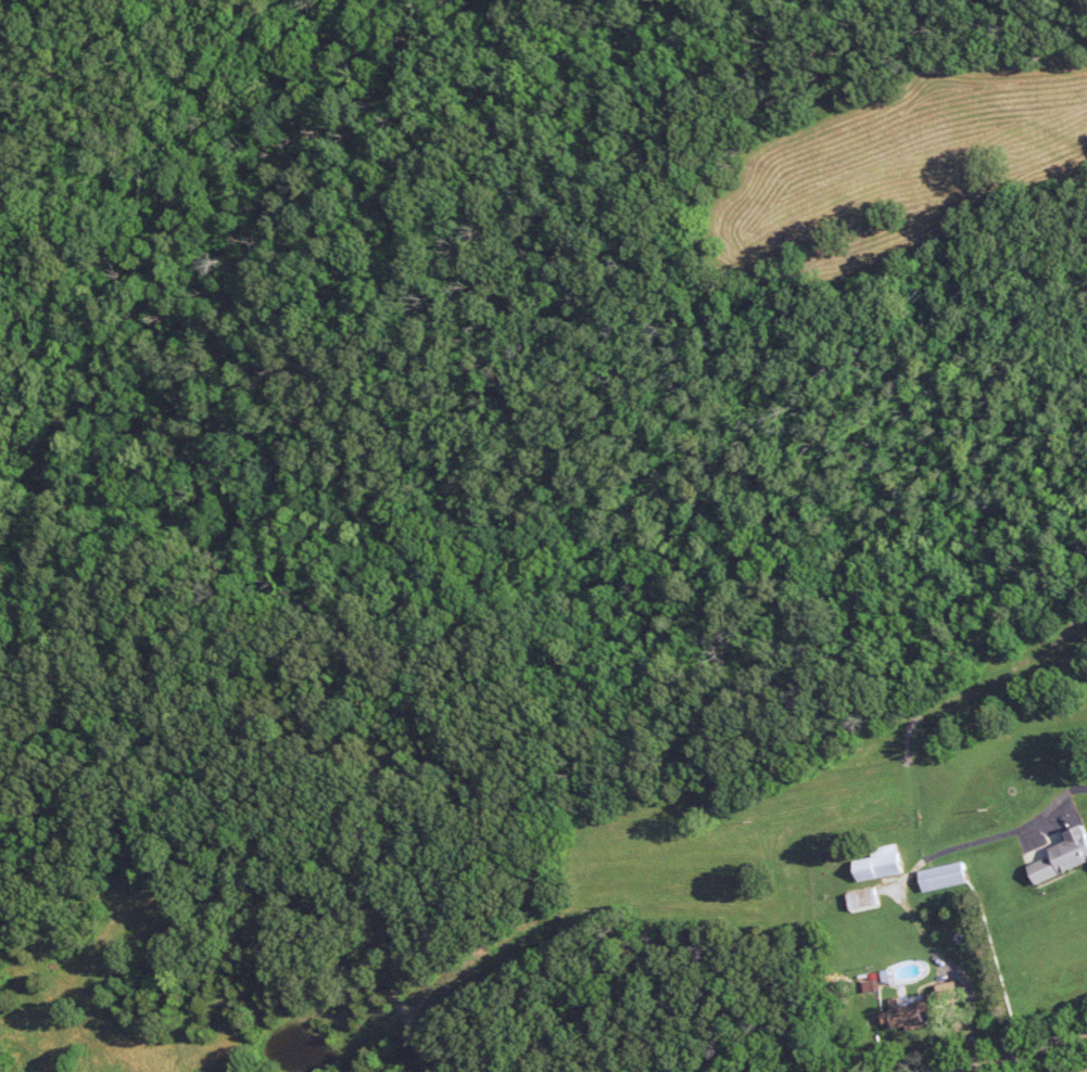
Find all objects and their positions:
building: (1064, 858)
building: (883, 865)
building: (947, 878)
road: (915, 908)
building: (917, 1013)
road: (416, 1020)
road: (1022, 1052)

